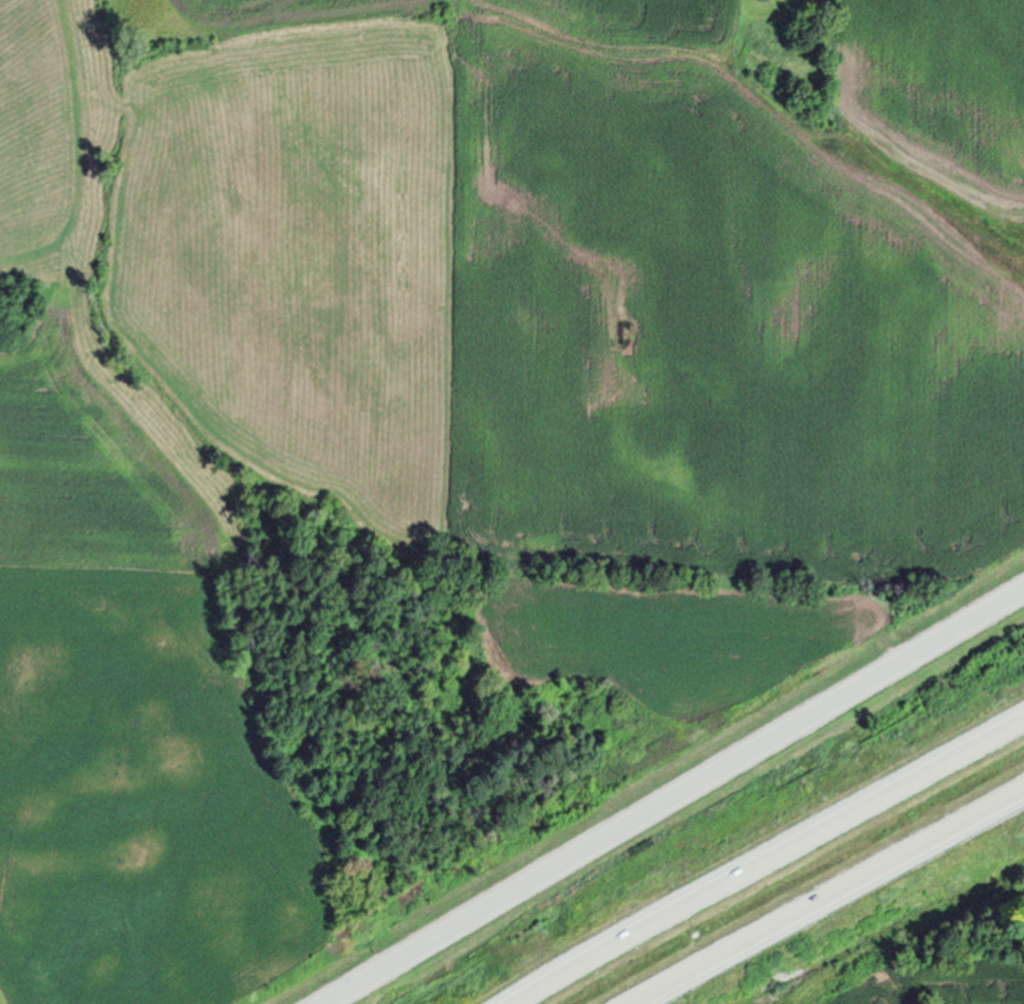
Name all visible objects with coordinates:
road: (677, 798)
road: (766, 863)
road: (835, 900)

